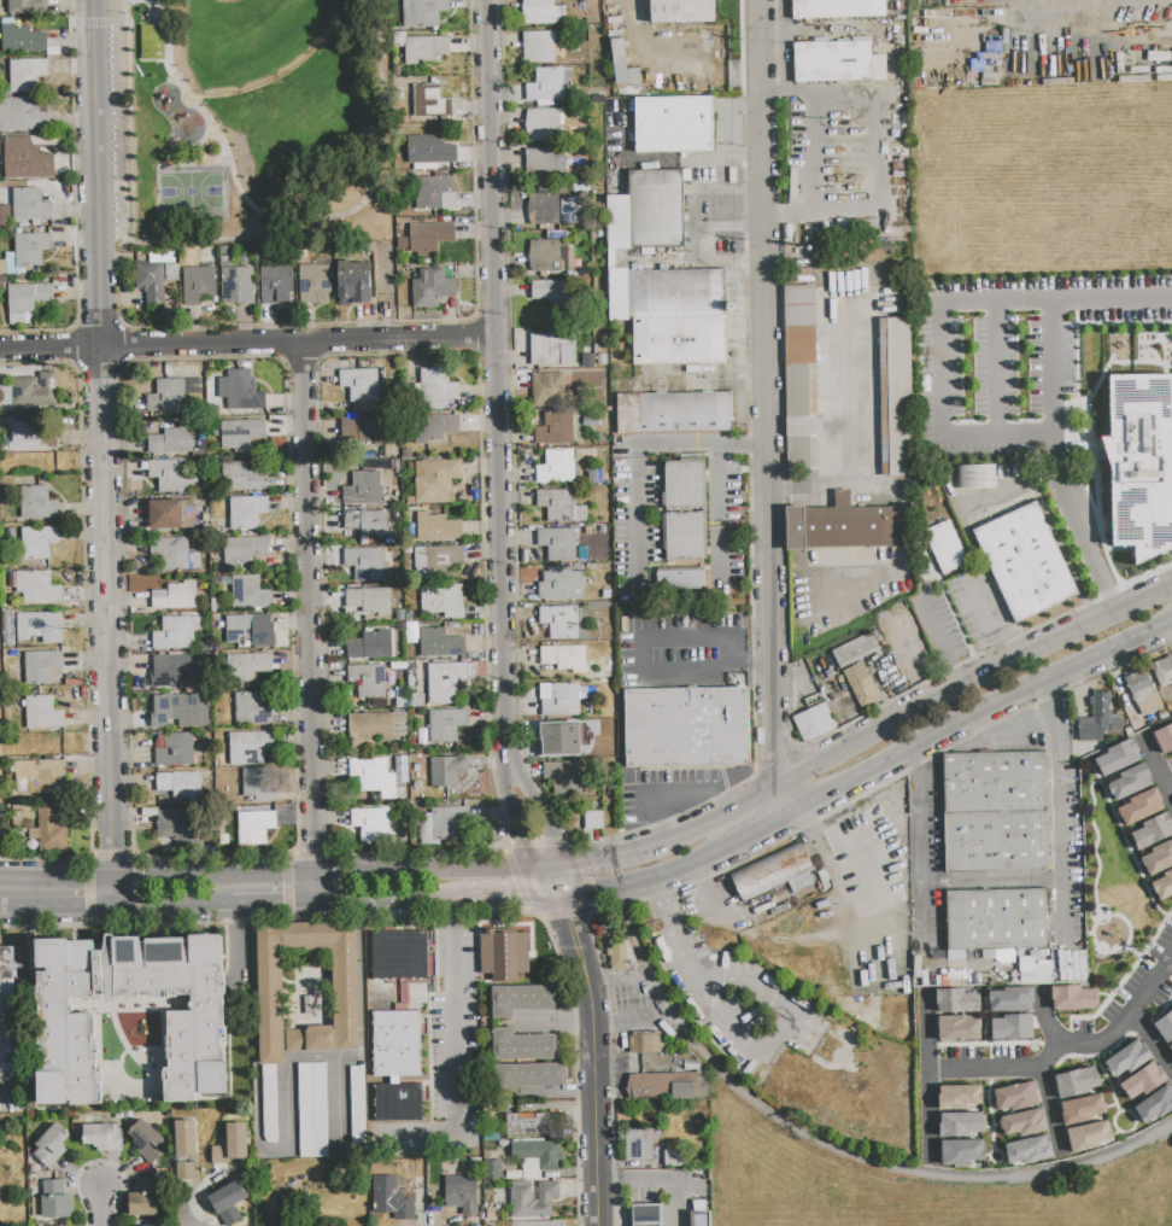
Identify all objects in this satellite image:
building: (27, 7)
road: (1083, 7)
building: (837, 8)
building: (681, 11)
building: (541, 12)
building: (423, 13)
road: (98, 23)
road: (784, 25)
park: (250, 35)
building: (22, 40)
building: (151, 42)
building: (539, 47)
building: (426, 48)
building: (1171, 49)
building: (837, 63)
building: (621, 65)
road: (286, 72)
building: (27, 75)
road: (180, 83)
building: (546, 87)
road: (94, 92)
building: (430, 101)
building: (22, 115)
parking lot: (116, 121)
park: (258, 121)
building: (674, 124)
building: (540, 125)
road: (879, 147)
road: (814, 152)
building: (430, 153)
road: (200, 156)
building: (25, 159)
building: (544, 163)
road: (375, 187)
park: (188, 192)
building: (434, 193)
road: (74, 199)
building: (29, 205)
building: (544, 210)
building: (647, 210)
building: (568, 211)
building: (4, 215)
building: (429, 237)
road: (204, 240)
building: (30, 249)
building: (549, 256)
building: (162, 257)
building: (171, 272)
building: (353, 281)
building: (151, 282)
building: (315, 282)
building: (198, 285)
building: (238, 285)
building: (276, 286)
building: (430, 288)
building: (553, 293)
building: (29, 297)
road: (1111, 300)
road: (940, 302)
building: (673, 315)
road: (289, 323)
road: (246, 340)
building: (552, 349)
road: (995, 368)
building: (801, 379)
road: (494, 384)
building: (361, 389)
building: (436, 389)
building: (551, 390)
building: (34, 391)
building: (240, 391)
building: (166, 396)
building: (896, 397)
road: (768, 404)
building: (673, 413)
road: (832, 416)
building: (348, 427)
building: (433, 428)
building: (555, 428)
building: (373, 431)
building: (240, 434)
building: (30, 438)
building: (171, 443)
road: (633, 449)
building: (1139, 462)
building: (553, 467)
road: (512, 468)
building: (174, 475)
building: (241, 477)
building: (977, 477)
building: (436, 481)
building: (363, 488)
building: (36, 503)
building: (557, 504)
building: (684, 509)
parking lot: (638, 510)
building: (247, 512)
building: (171, 514)
road: (722, 515)
building: (367, 524)
road: (1076, 525)
building: (438, 527)
building: (842, 527)
road: (104, 531)
building: (37, 542)
building: (557, 543)
building: (945, 548)
building: (244, 549)
building: (174, 554)
building: (435, 562)
building: (1025, 562)
building: (364, 564)
building: (680, 582)
building: (562, 583)
building: (37, 589)
building: (248, 592)
building: (176, 595)
building: (443, 600)
building: (369, 601)
road: (983, 611)
road: (311, 620)
building: (559, 621)
building: (40, 626)
building: (250, 630)
building: (175, 632)
road: (936, 632)
building: (440, 643)
building: (370, 646)
building: (855, 650)
parking lot: (685, 653)
road: (1002, 655)
building: (564, 658)
building: (247, 666)
building: (36, 669)
building: (174, 671)
road: (640, 671)
building: (1162, 671)
road: (956, 678)
building: (368, 679)
building: (447, 681)
building: (861, 687)
building: (1141, 691)
building: (559, 699)
road: (1048, 704)
building: (252, 710)
road: (978, 711)
building: (180, 712)
building: (42, 713)
road: (912, 717)
building: (398, 720)
building: (1098, 720)
building: (814, 722)
building: (445, 725)
road: (1010, 728)
building: (687, 729)
building: (371, 732)
building: (559, 738)
building: (1164, 738)
building: (245, 748)
building: (175, 751)
road: (916, 755)
building: (1115, 758)
building: (447, 771)
building: (563, 777)
building: (36, 780)
building: (370, 780)
building: (1130, 781)
road: (1165, 784)
building: (257, 786)
building: (178, 788)
road: (678, 794)
building: (1138, 806)
road: (538, 811)
building: (996, 812)
building: (592, 819)
road: (515, 821)
building: (369, 823)
building: (447, 823)
road: (756, 824)
building: (178, 827)
building: (254, 827)
building: (49, 831)
building: (1150, 831)
road: (1060, 833)
road: (920, 854)
road: (599, 857)
building: (1156, 858)
building: (772, 871)
road: (329, 874)
road: (55, 878)
road: (991, 881)
road: (646, 882)
building: (1161, 885)
road: (112, 893)
road: (514, 895)
road: (654, 898)
road: (393, 899)
road: (275, 904)
road: (55, 906)
road: (172, 906)
road: (452, 912)
building: (764, 917)
building: (996, 920)
road: (676, 944)
building: (502, 953)
building: (398, 956)
building: (615, 956)
building: (1032, 971)
building: (270, 987)
road: (768, 993)
building: (1072, 997)
building: (1009, 998)
building: (520, 999)
building: (955, 1000)
building: (7, 1014)
road: (725, 1015)
building: (66, 1020)
road: (626, 1020)
road: (1042, 1020)
building: (1009, 1026)
building: (1164, 1026)
building: (955, 1027)
road: (1149, 1040)
road: (593, 1041)
building: (397, 1044)
road: (1065, 1044)
building: (645, 1045)
building: (1170, 1045)
building: (522, 1046)
building: (872, 1056)
building: (1125, 1058)
road: (453, 1067)
road: (928, 1074)
building: (527, 1076)
building: (1142, 1080)
building: (1076, 1081)
building: (855, 1082)
building: (664, 1086)
building: (956, 1096)
building: (1014, 1096)
building: (398, 1102)
building: (1154, 1104)
building: (358, 1105)
building: (1080, 1109)
building: (313, 1110)
road: (1050, 1110)
building: (1021, 1122)
building: (959, 1123)
building: (534, 1125)
road: (287, 1127)
building: (1086, 1135)
building: (102, 1137)
building: (183, 1137)
building: (145, 1138)
building: (232, 1144)
building: (639, 1145)
building: (51, 1146)
building: (1026, 1150)
building: (960, 1151)
building: (537, 1157)
building: (475, 1162)
building: (494, 1169)
building: (184, 1172)
building: (145, 1185)
building: (462, 1198)
building: (391, 1199)
building: (533, 1199)
building: (227, 1203)
building: (142, 1204)
road: (98, 1205)
building: (52, 1207)
road: (180, 1213)
building: (644, 1215)
building: (699, 1219)
building: (58, 1225)
building: (165, 1225)

